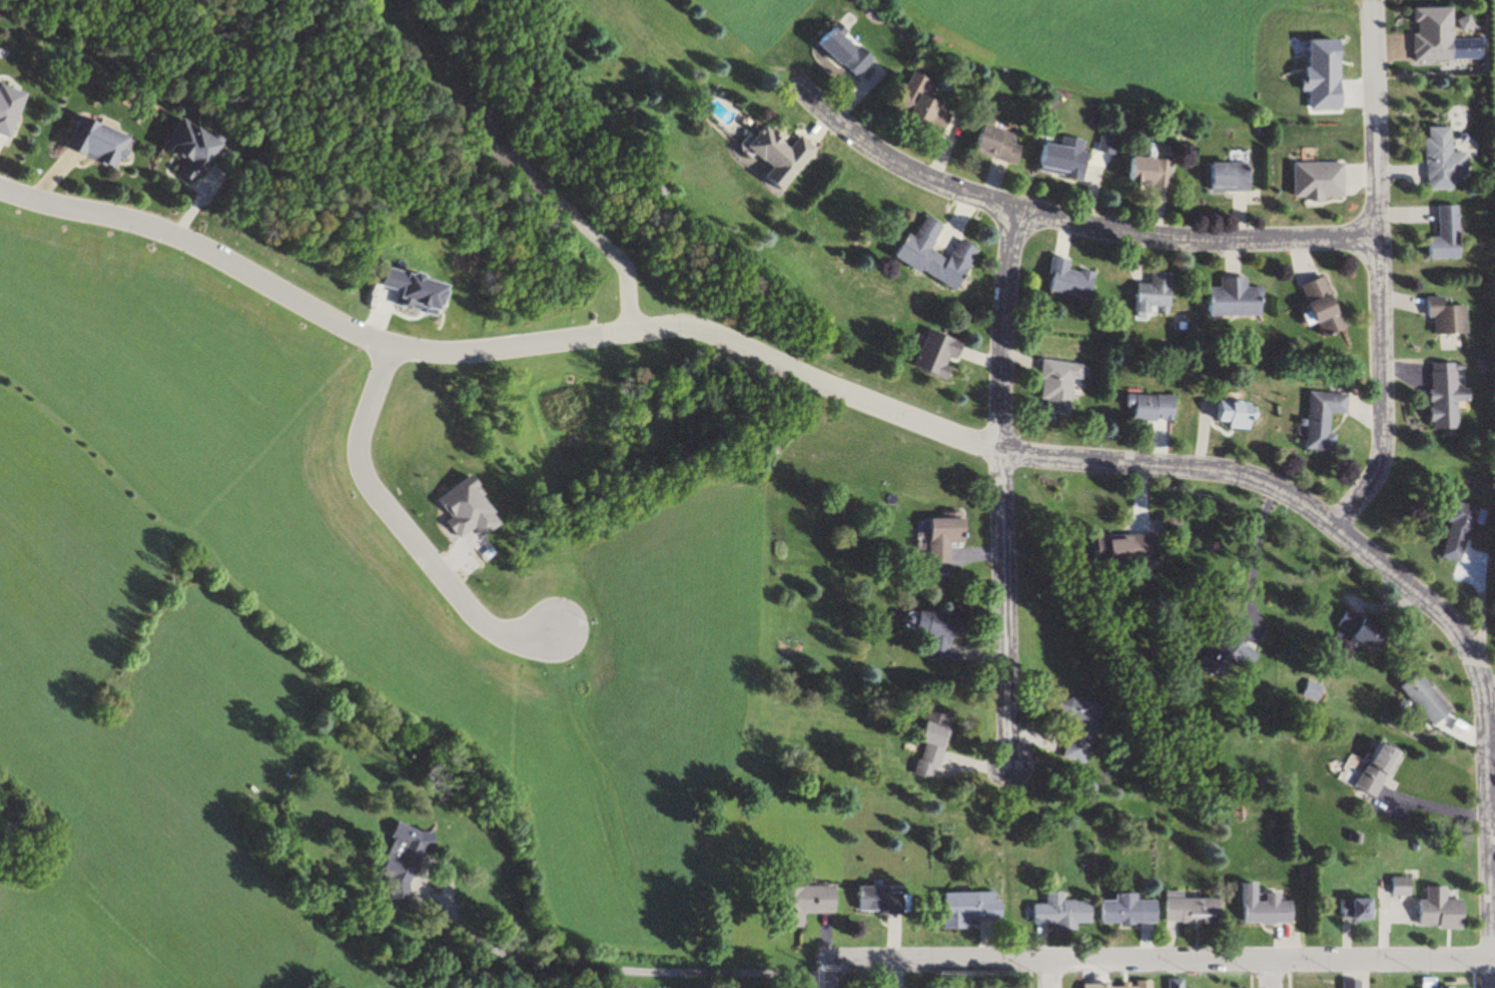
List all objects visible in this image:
building: (851, 51)
road: (439, 60)
road: (1374, 66)
building: (927, 105)
parking lot: (484, 132)
building: (104, 142)
park: (478, 142)
building: (1002, 144)
building: (198, 149)
building: (782, 156)
building: (1443, 159)
building: (1067, 162)
building: (1154, 173)
building: (1233, 177)
building: (1322, 181)
road: (574, 216)
road: (1068, 220)
building: (1449, 235)
building: (940, 256)
building: (1073, 280)
building: (1156, 294)
building: (1237, 299)
building: (1324, 300)
building: (1450, 318)
road: (1378, 333)
building: (942, 355)
road: (766, 358)
building: (1061, 387)
building: (1448, 397)
building: (1153, 408)
building: (1236, 414)
building: (1325, 420)
road: (1006, 485)
road: (405, 525)
building: (1171, 525)
building: (1460, 531)
building: (950, 538)
building: (1127, 549)
road: (1250, 561)
building: (944, 632)
building: (1228, 656)
building: (1428, 698)
building: (1084, 731)
building: (936, 747)
building: (1381, 770)
road: (1487, 830)
building: (409, 858)
building: (1396, 886)
building: (884, 900)
building: (808, 905)
building: (1265, 908)
building: (1348, 908)
building: (972, 910)
building: (1194, 910)
building: (1430, 910)
building: (1132, 911)
building: (1066, 914)
building: (1390, 917)
road: (1164, 961)
road: (567, 967)
road: (833, 974)
road: (1044, 974)
road: (1270, 974)
building: (1422, 983)
building: (1176, 984)
building: (1345, 984)
building: (1115, 986)

